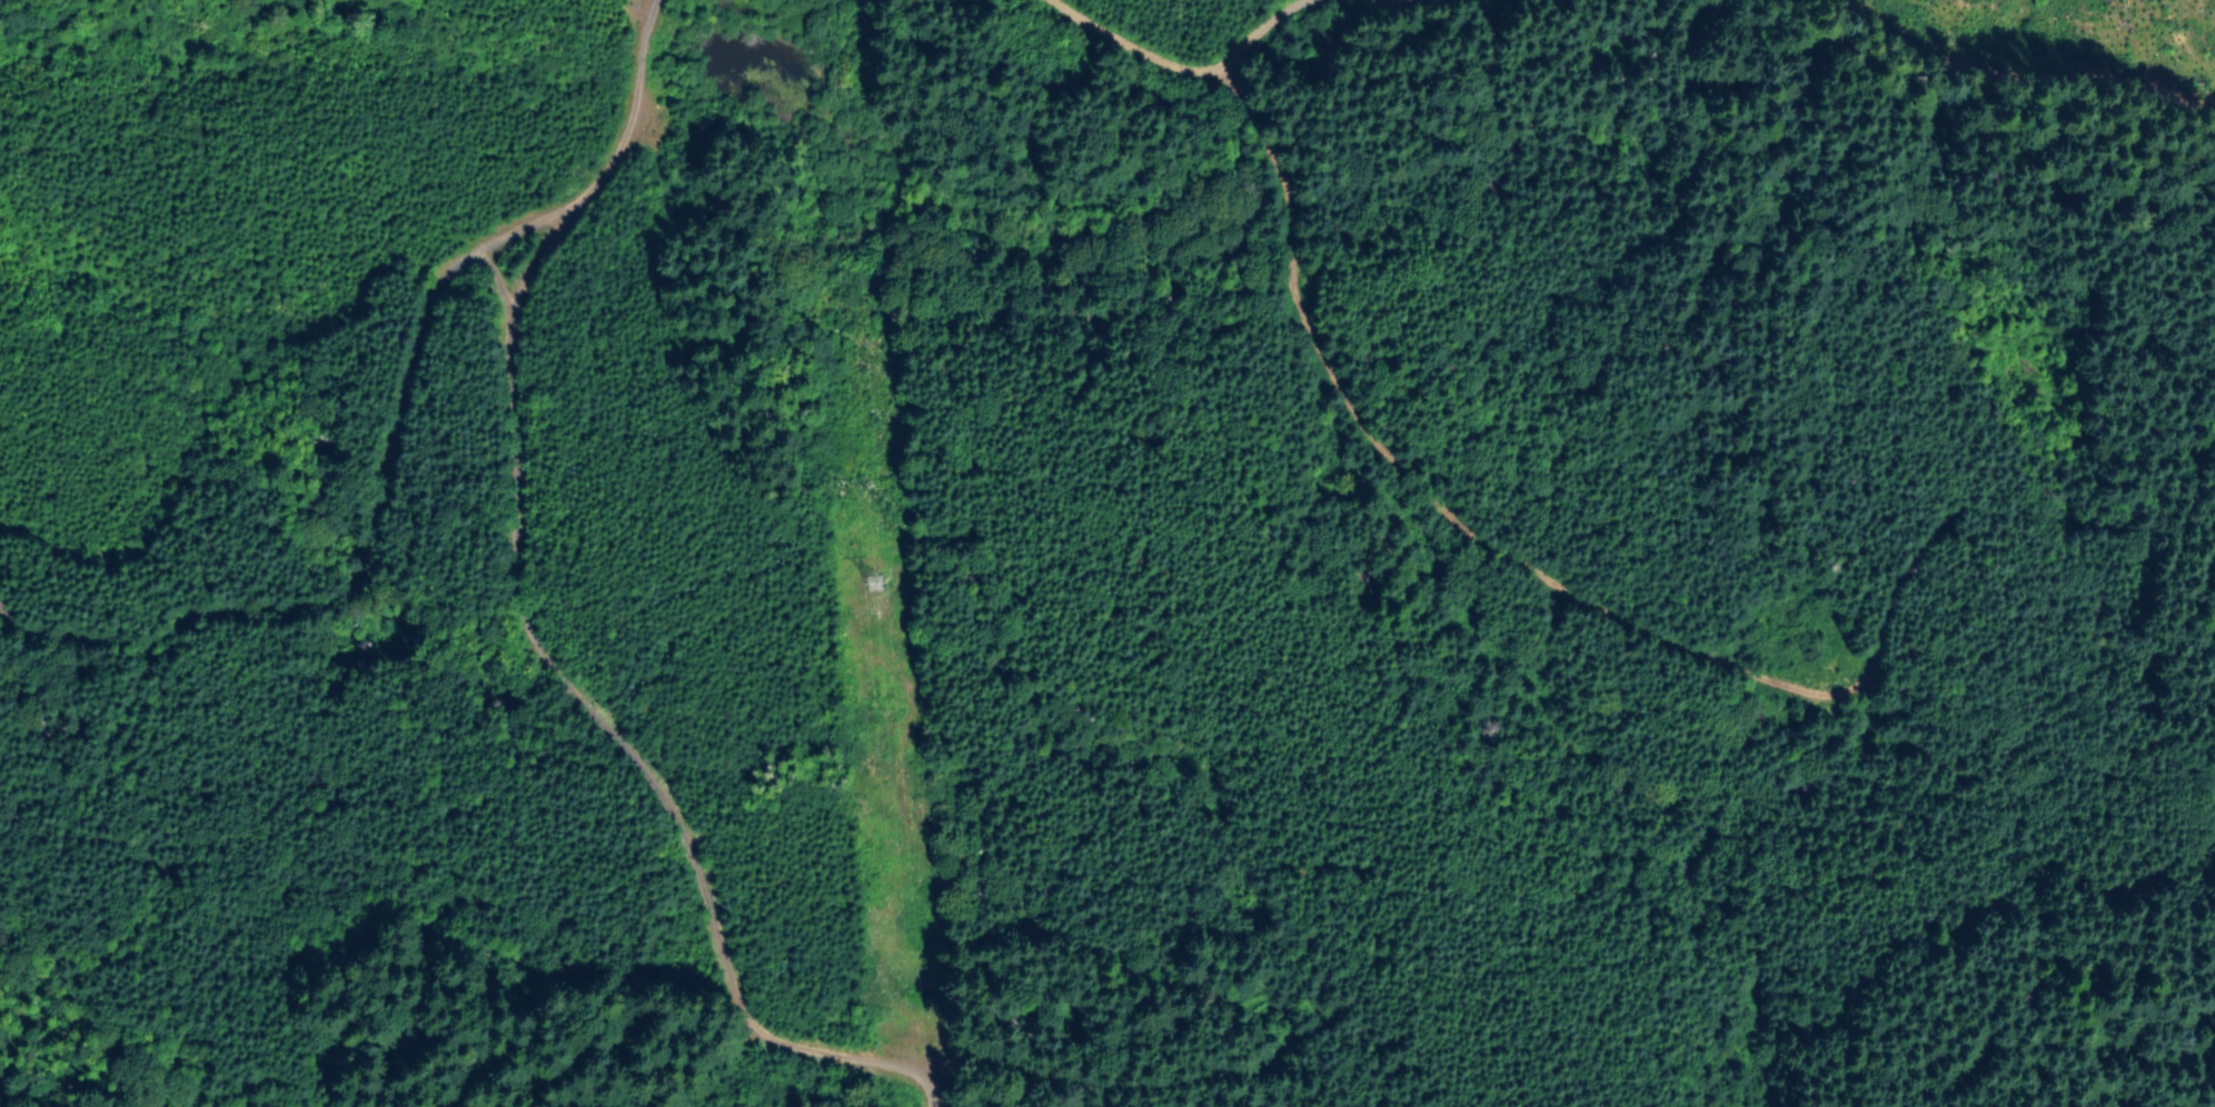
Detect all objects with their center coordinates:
road: (2008, 80)

